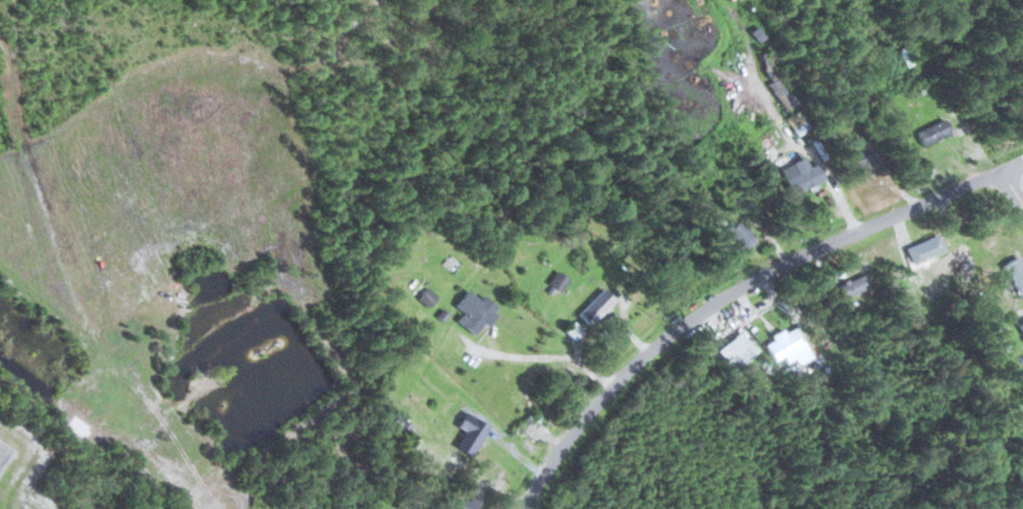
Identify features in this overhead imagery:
building: (776, 81)
building: (933, 126)
building: (856, 148)
building: (800, 171)
road: (1011, 185)
building: (741, 234)
building: (922, 244)
building: (560, 282)
road: (738, 286)
building: (853, 286)
building: (596, 306)
building: (476, 312)
building: (1021, 325)
building: (573, 330)
building: (786, 345)
building: (741, 347)
building: (471, 432)
power substation: (4, 454)
building: (463, 503)

